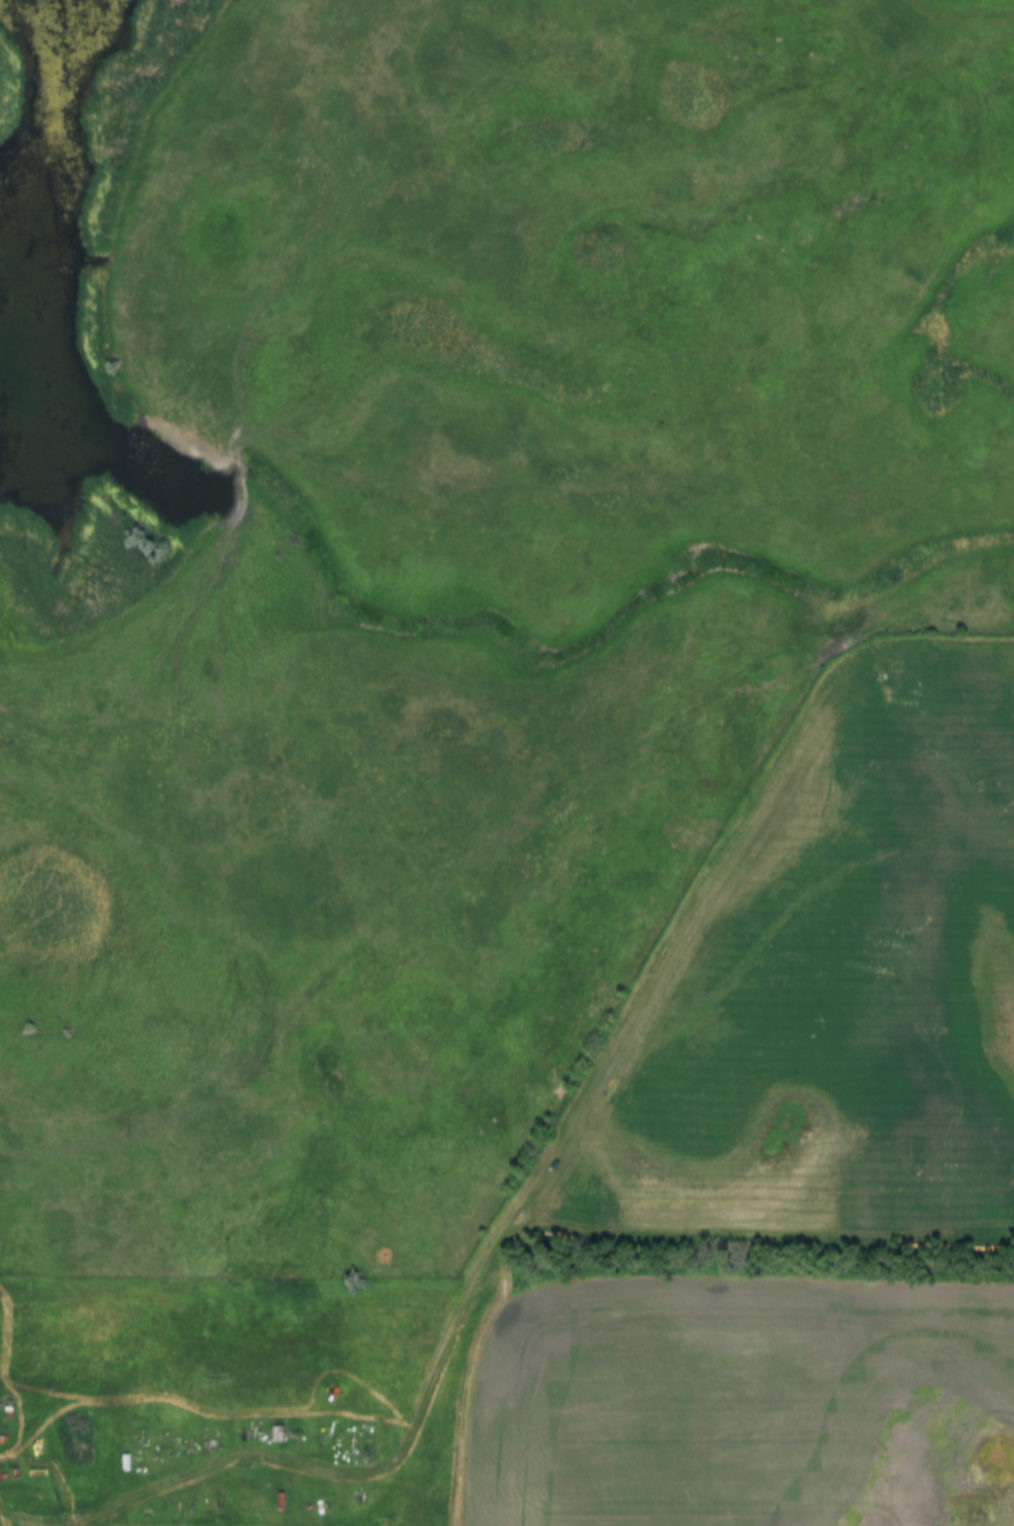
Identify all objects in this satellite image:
building: (277, 1433)

